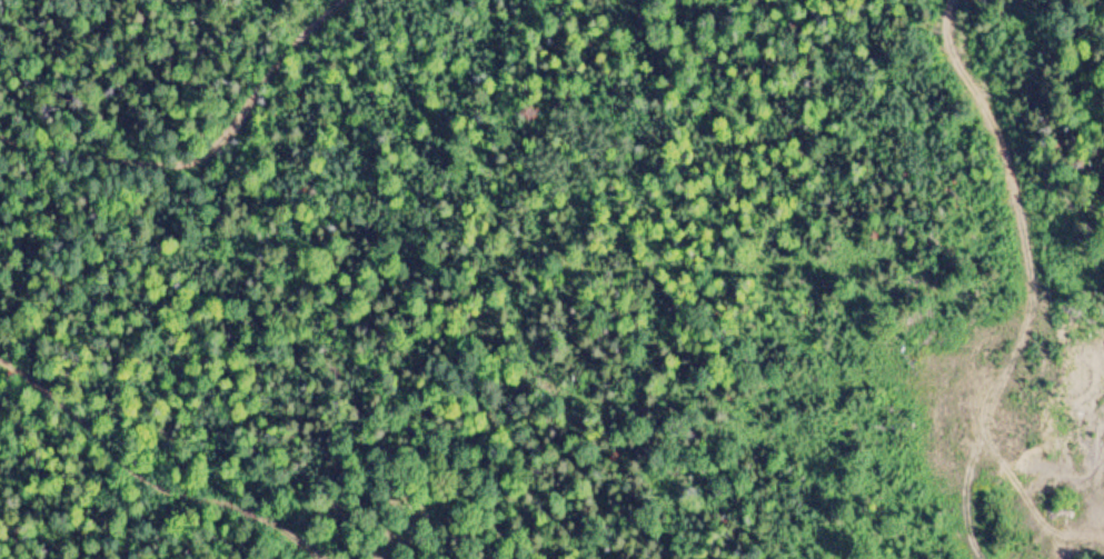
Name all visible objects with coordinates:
road: (1102, 527)

